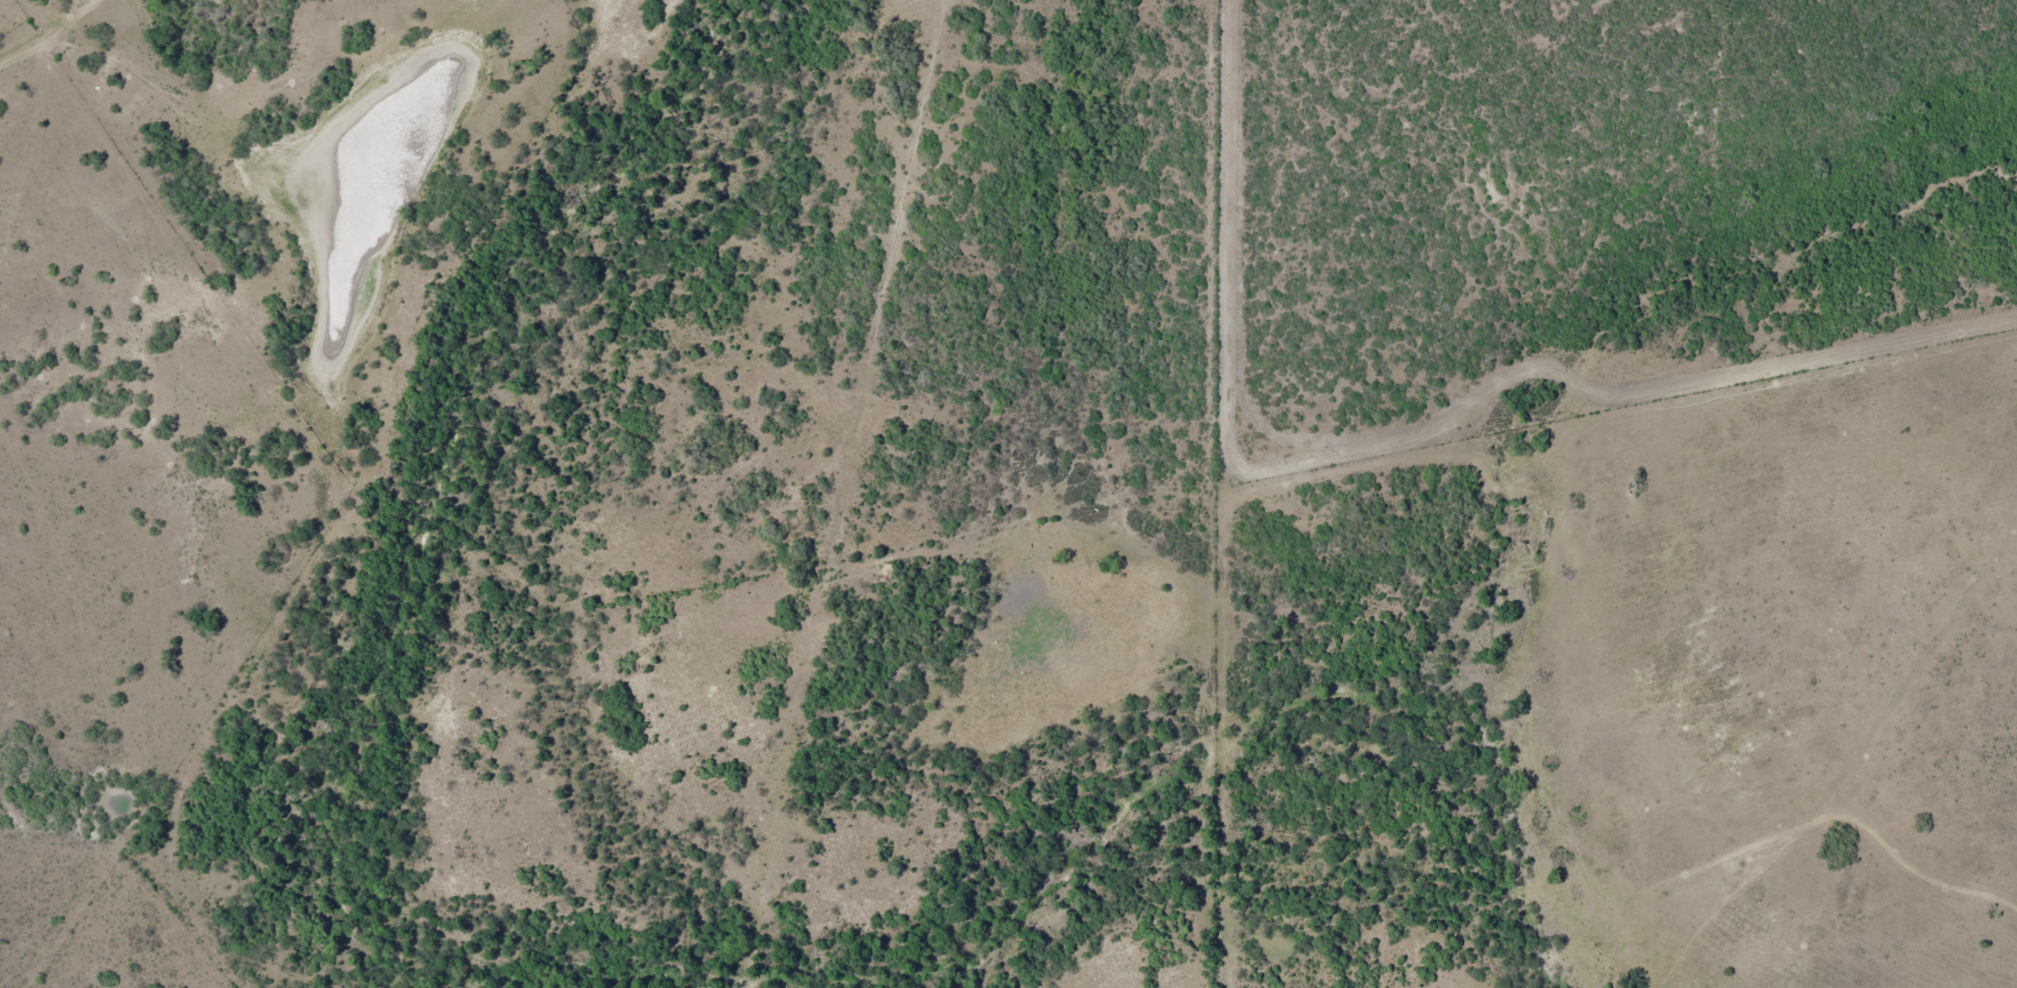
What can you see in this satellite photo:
road: (1792, 855)

